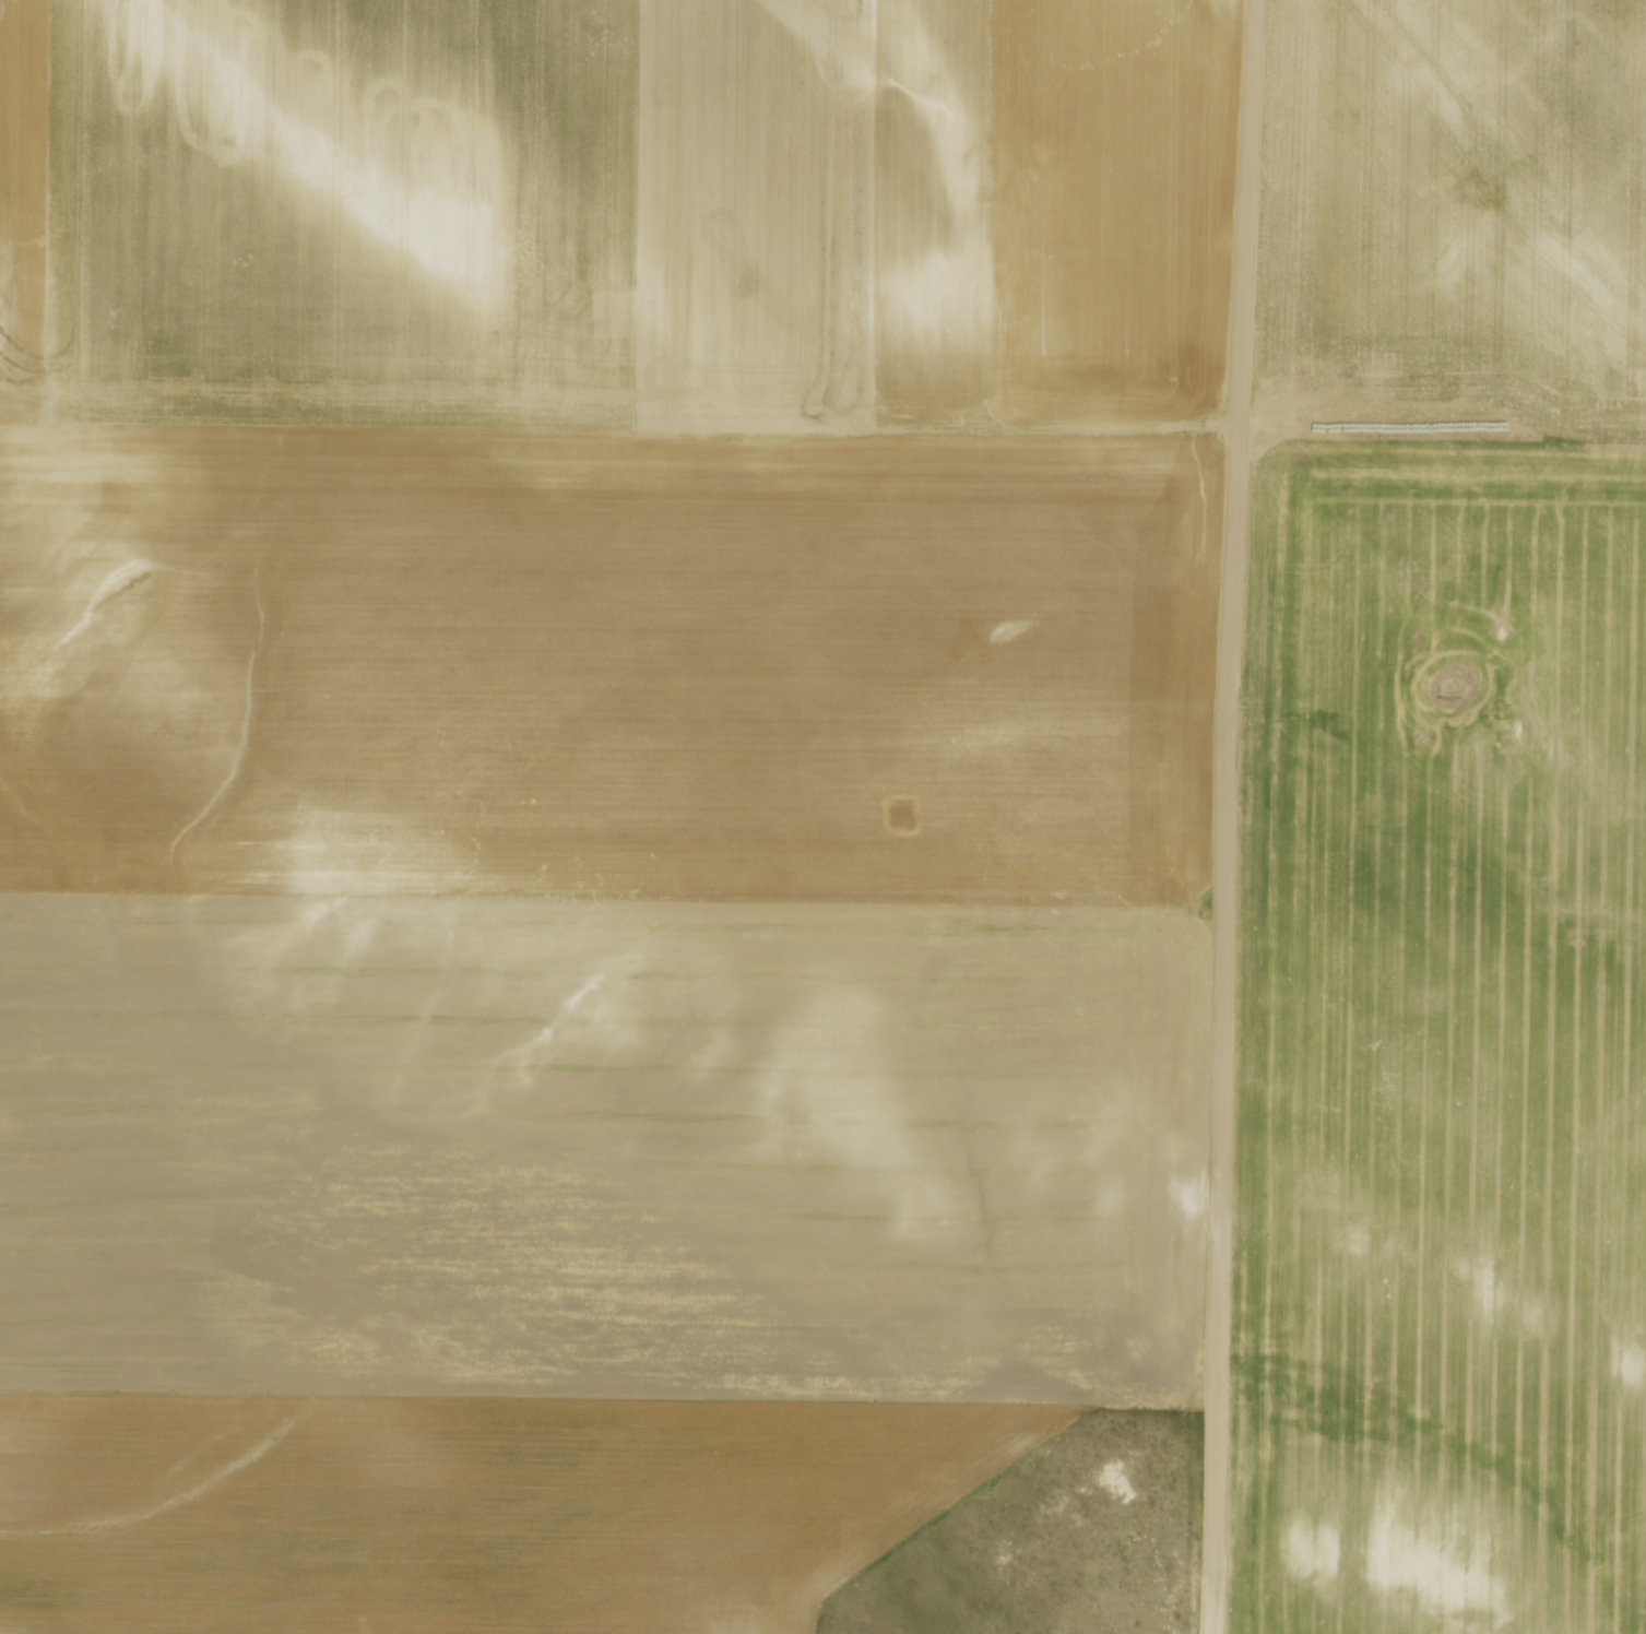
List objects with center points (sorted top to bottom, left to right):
crop: (592, 786)
road: (1230, 816)
crop: (1448, 832)

